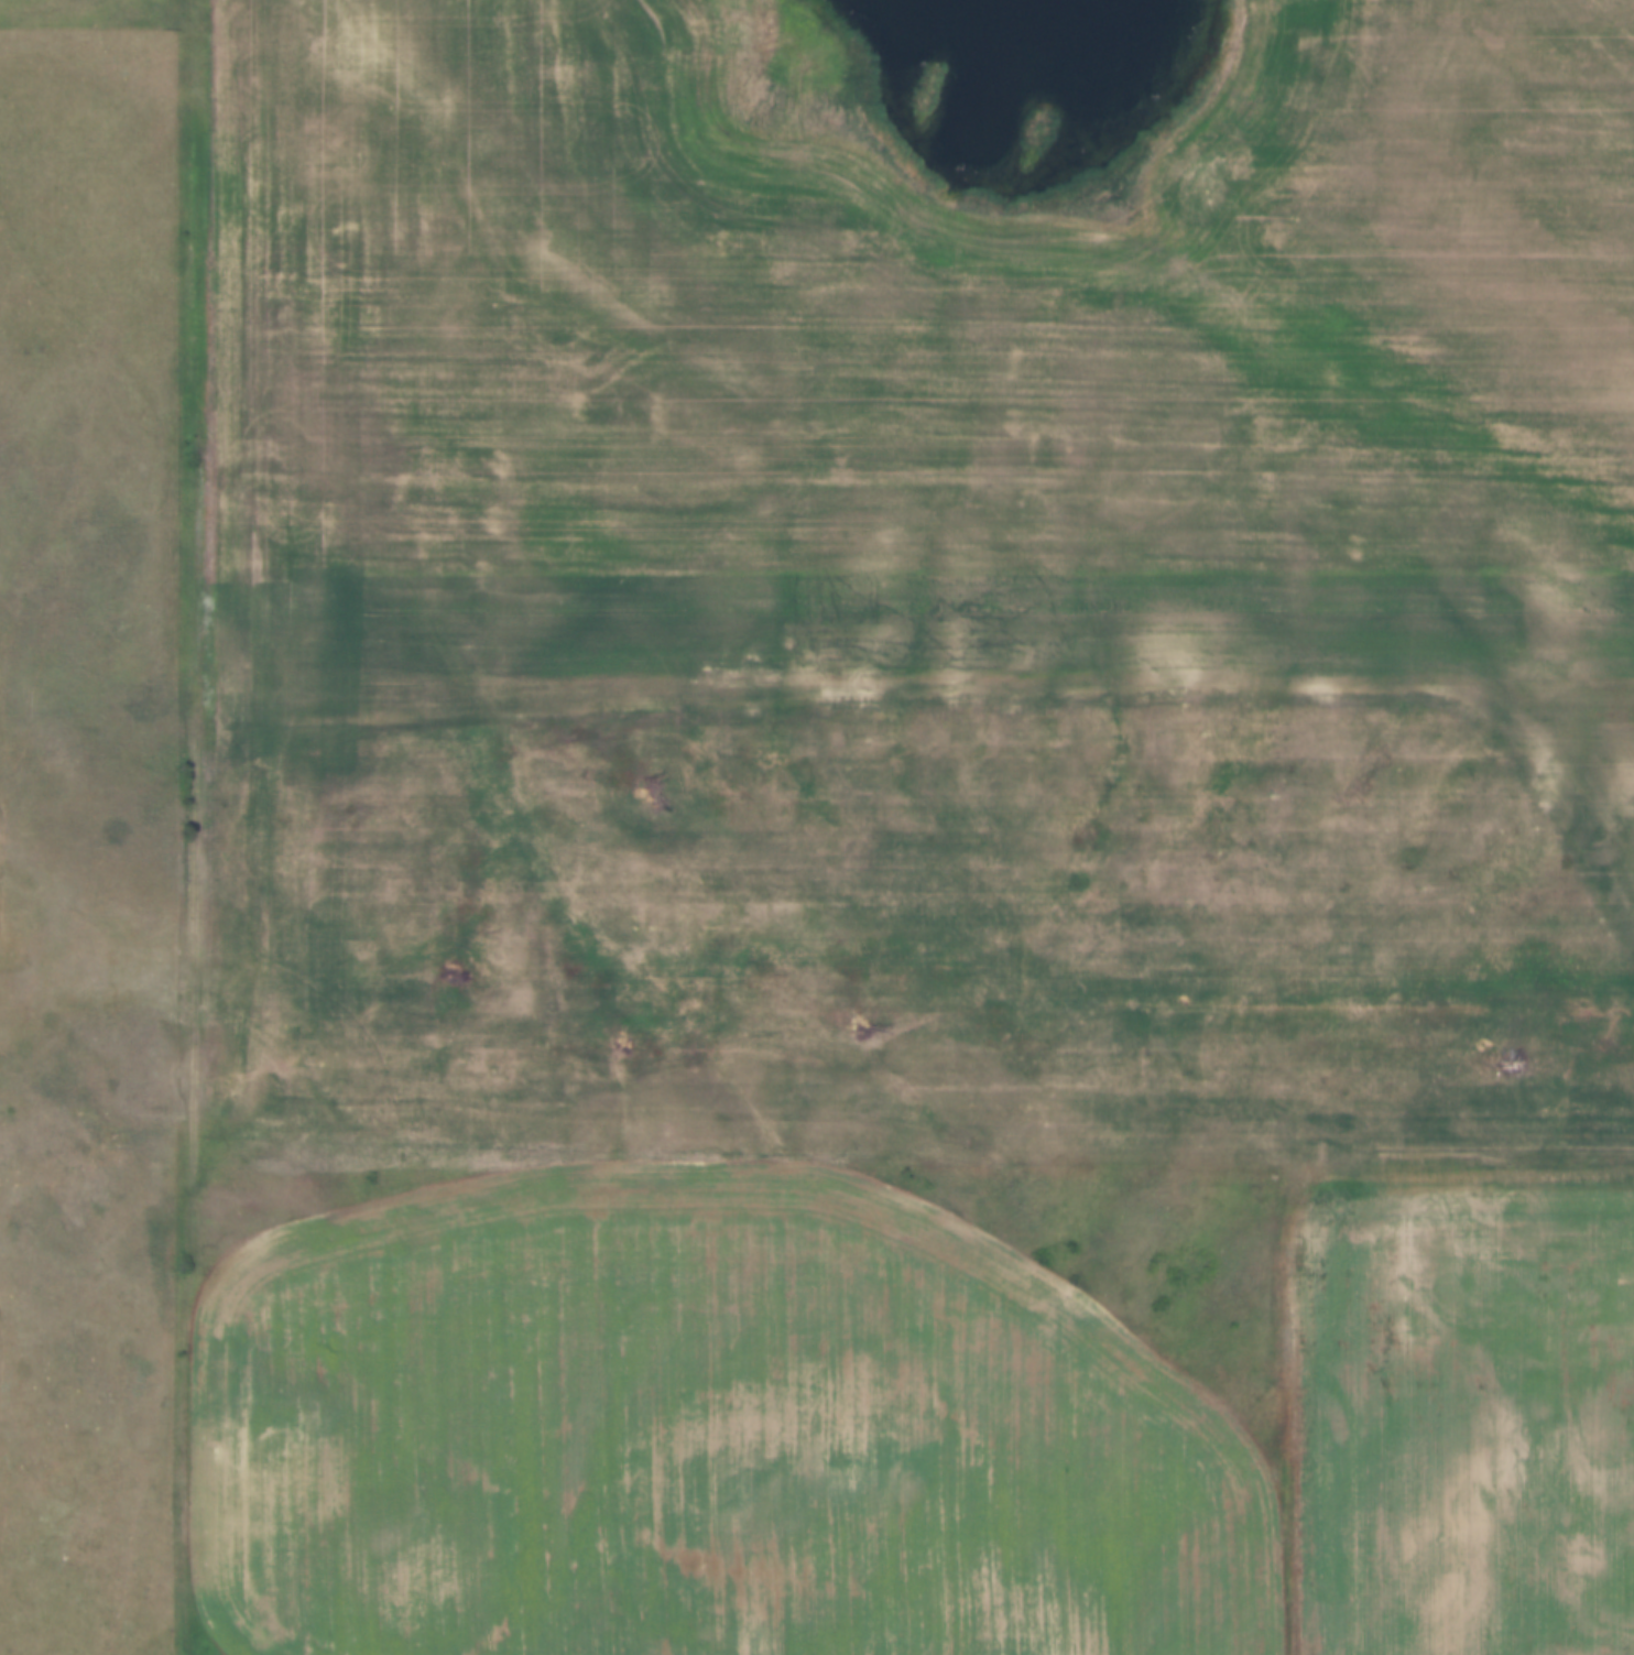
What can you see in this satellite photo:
road: (193, 827)
road: (909, 1137)

